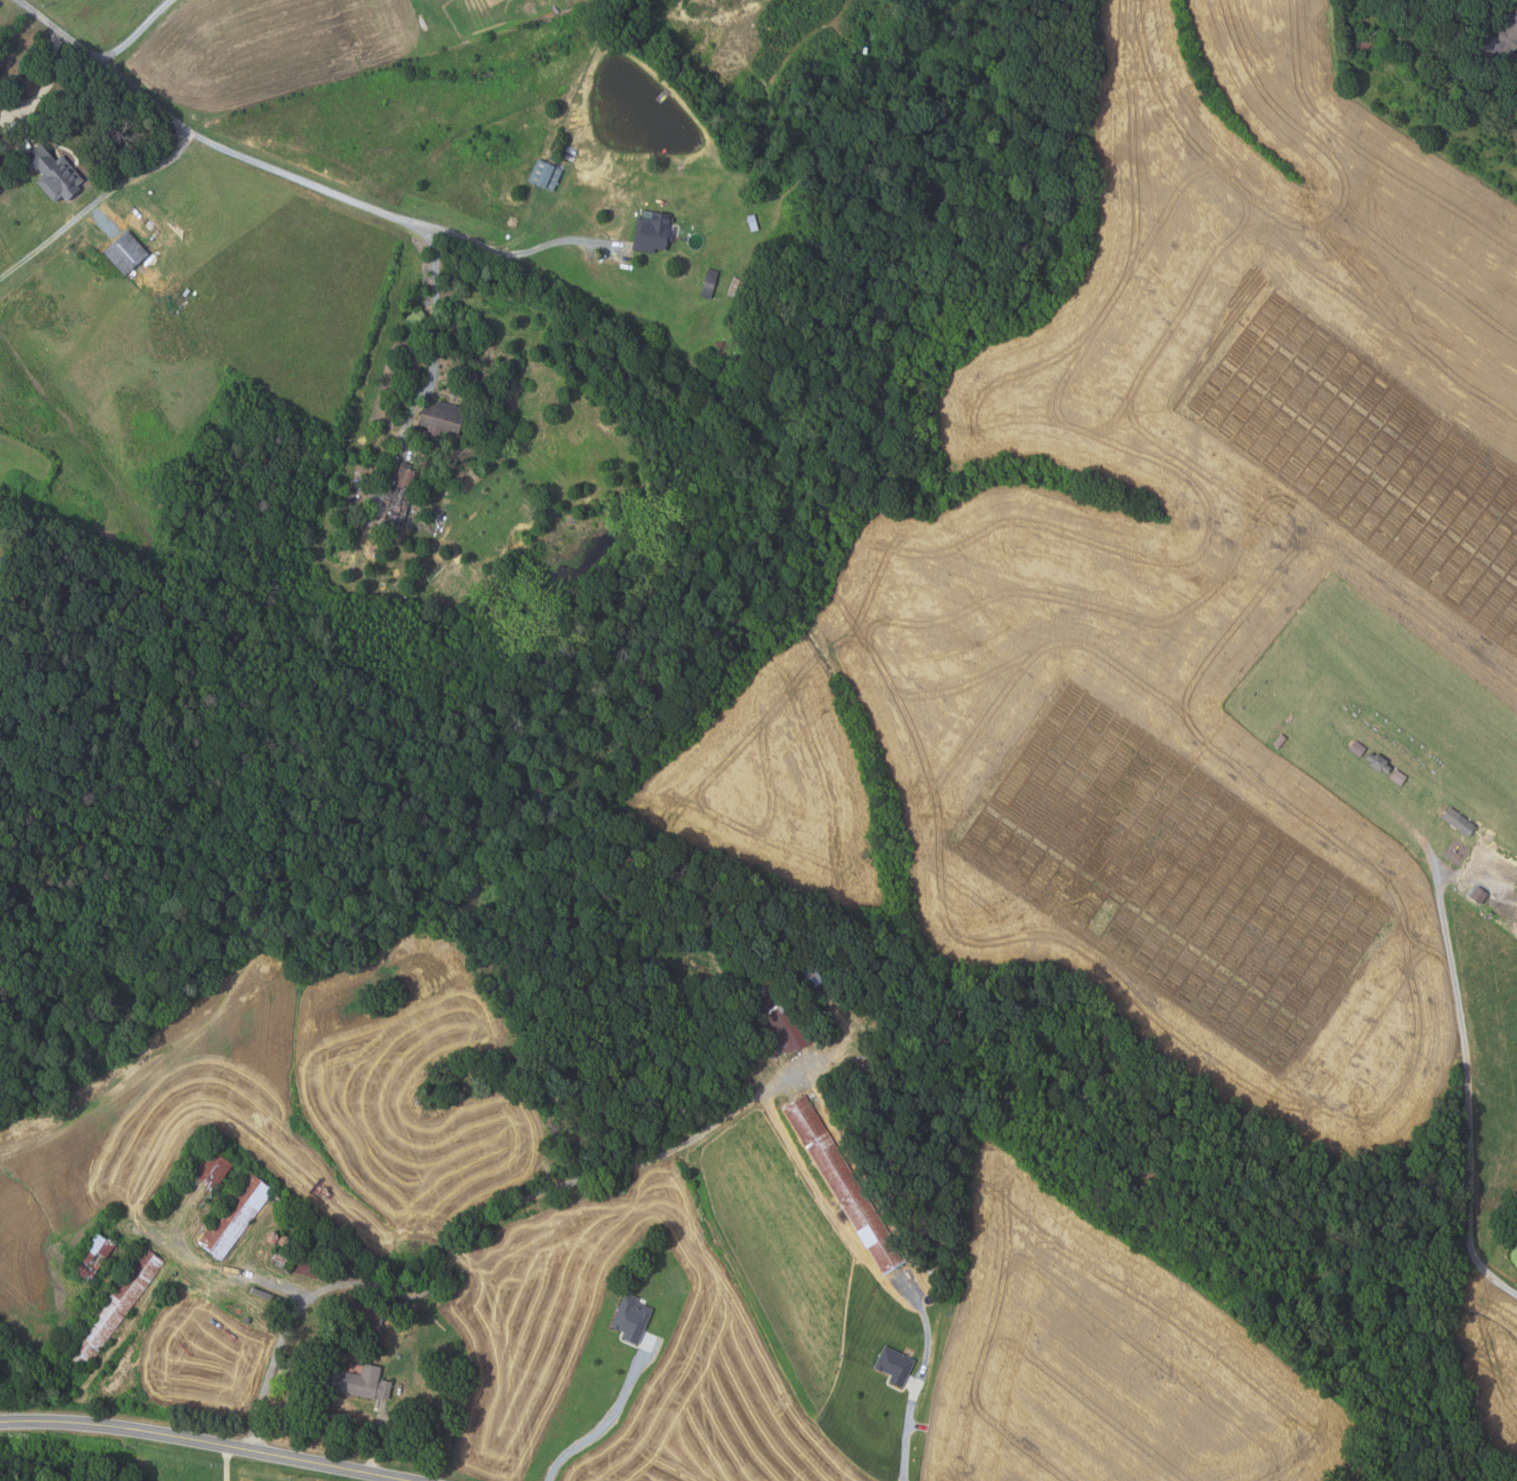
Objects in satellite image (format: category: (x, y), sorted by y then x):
building: (1412, 2)
road: (132, 32)
building: (1368, 37)
building: (1498, 41)
road: (51, 75)
road: (250, 156)
building: (543, 175)
building: (53, 176)
road: (96, 202)
building: (751, 223)
building: (650, 233)
road: (558, 239)
building: (124, 253)
building: (708, 282)
road: (438, 311)
building: (440, 418)
building: (424, 488)
building: (397, 500)
building: (2, 566)
crop: (1172, 592)
building: (1279, 740)
building: (1356, 748)
building: (1377, 762)
building: (1398, 777)
building: (1458, 821)
building: (806, 971)
building: (780, 1014)
road: (1466, 1083)
crop: (275, 1107)
building: (210, 1170)
building: (845, 1182)
building: (233, 1215)
road: (475, 1237)
building: (92, 1255)
building: (315, 1267)
crop: (522, 1292)
building: (113, 1306)
building: (630, 1317)
building: (246, 1319)
building: (398, 1356)
crop: (1105, 1357)
crop: (189, 1363)
building: (894, 1364)
road: (927, 1379)
building: (356, 1382)
road: (610, 1417)
road: (376, 1437)
road: (207, 1441)
road: (226, 1462)

